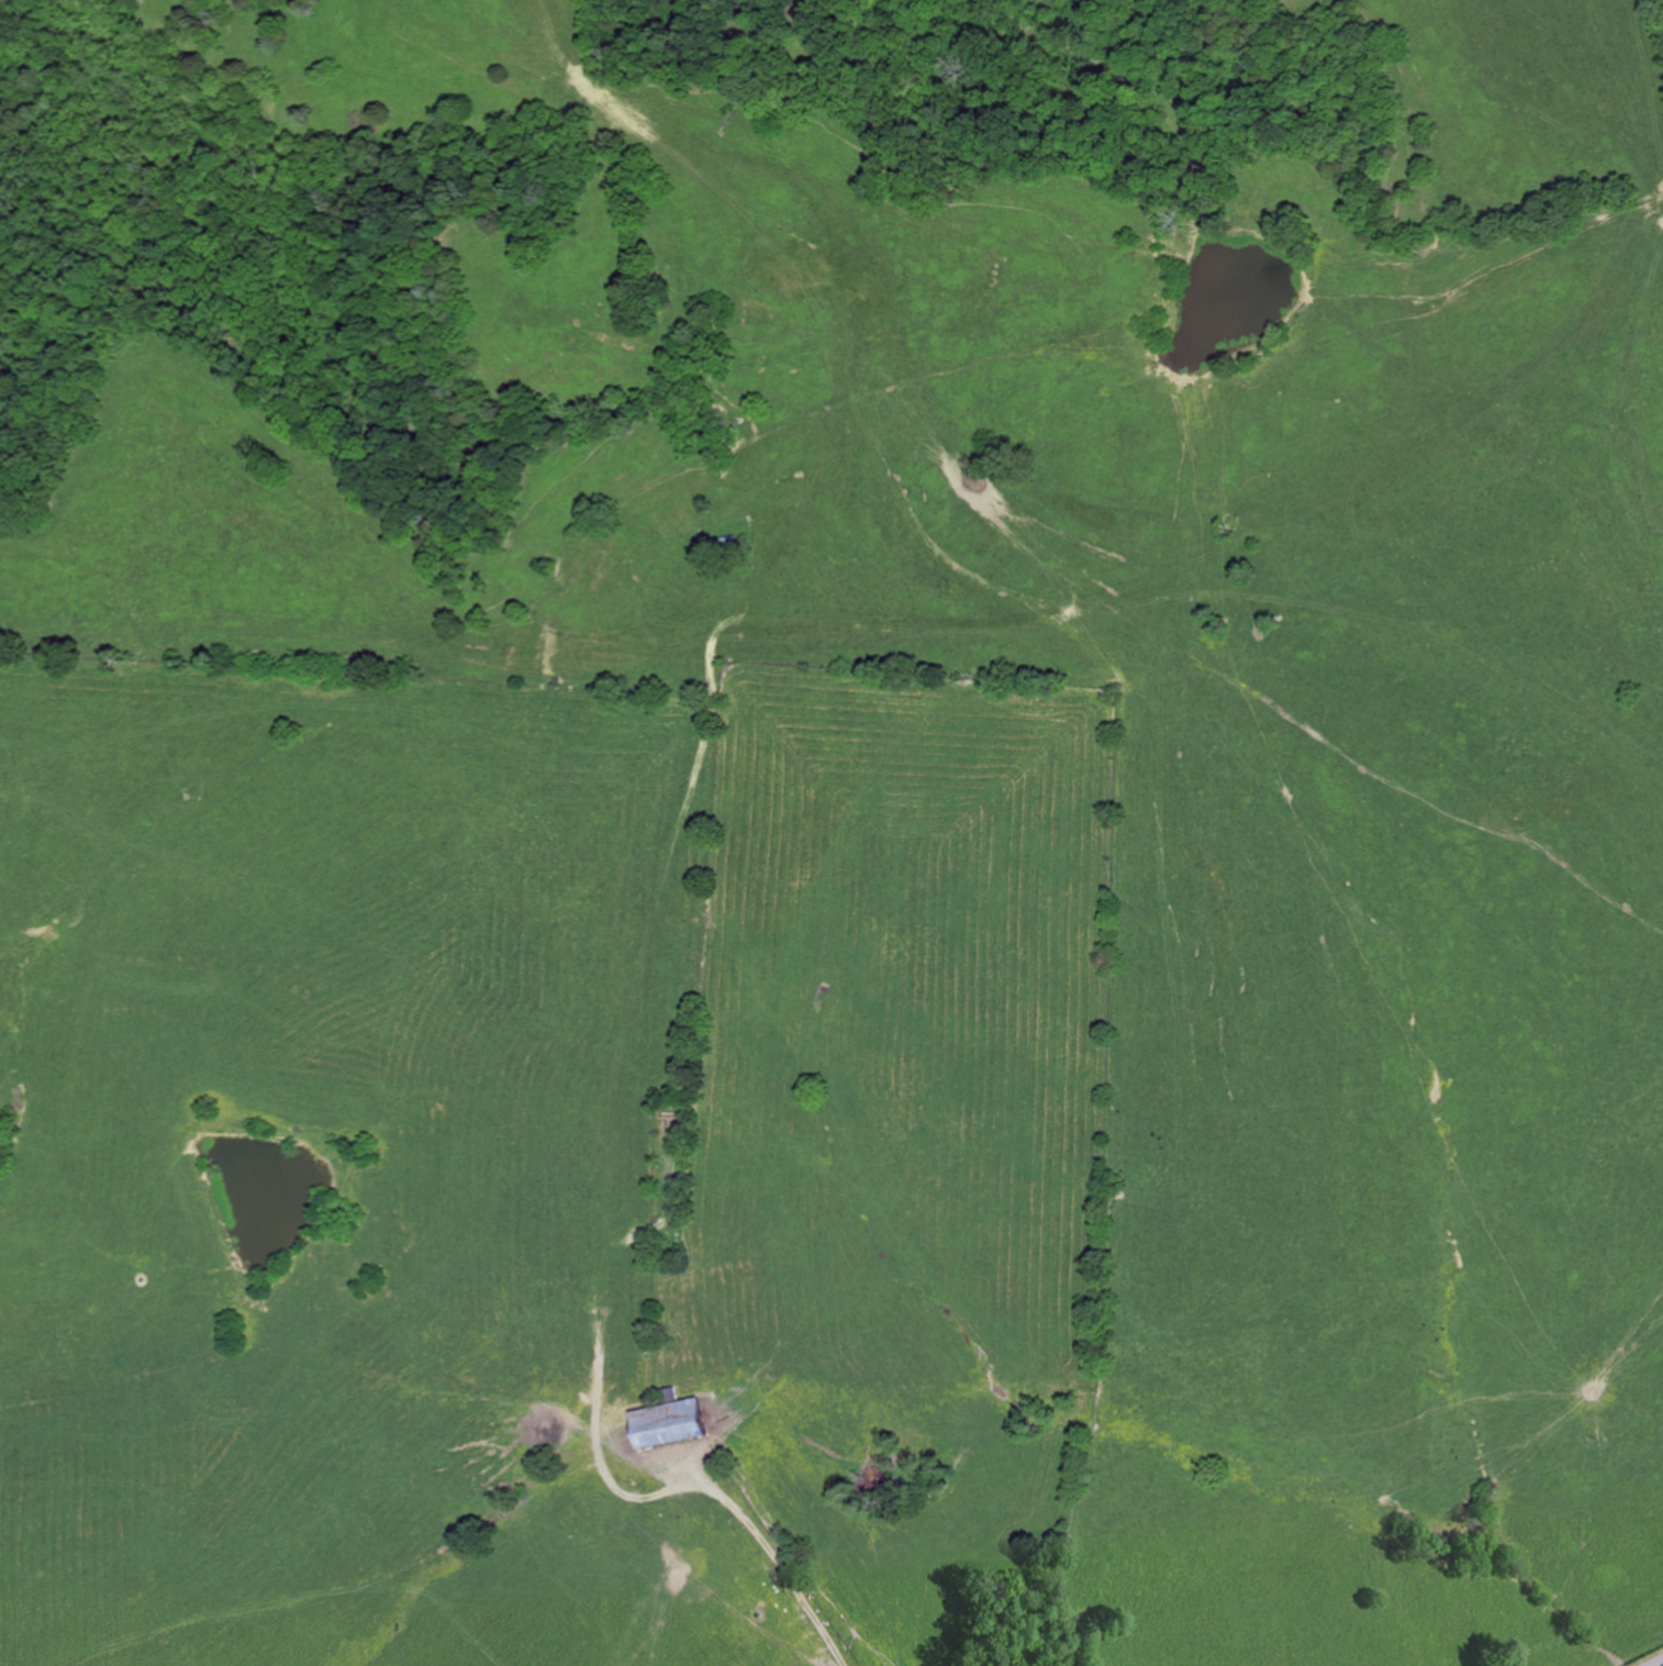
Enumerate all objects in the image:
building: (682, 1423)
road: (726, 1497)
road: (1658, 1663)

